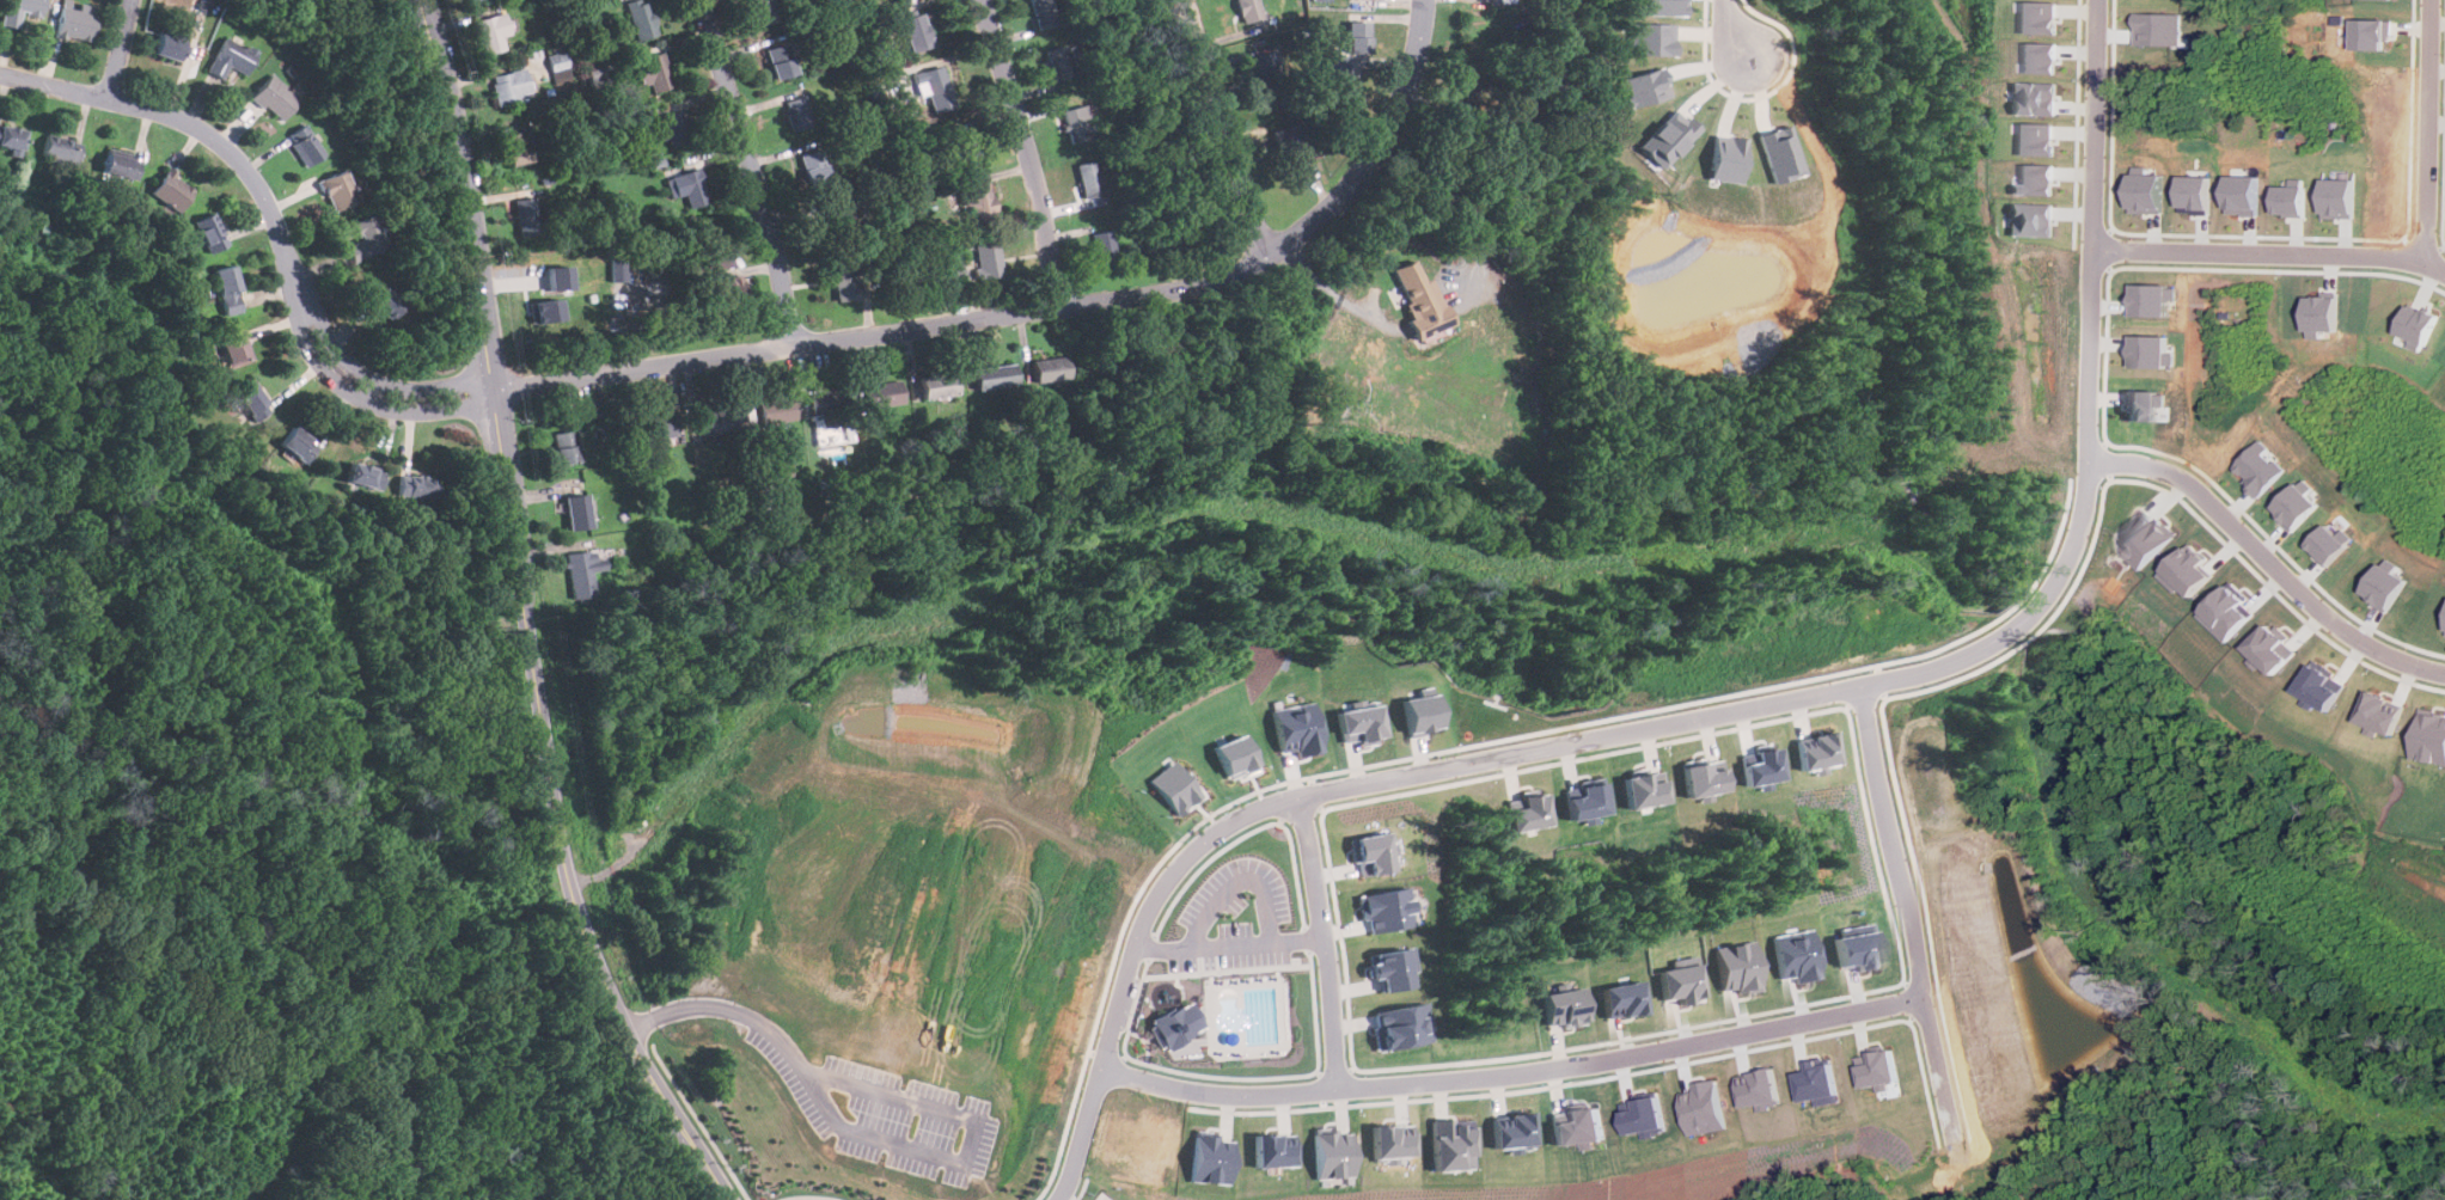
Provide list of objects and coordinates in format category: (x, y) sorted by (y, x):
building: (471, 0)
building: (1322, 0)
building: (1663, 7)
building: (19, 11)
building: (764, 11)
building: (1249, 12)
building: (1043, 13)
building: (2036, 16)
building: (640, 19)
building: (75, 20)
building: (917, 29)
building: (2157, 29)
road: (1730, 30)
building: (491, 32)
building: (2372, 33)
building: (1651, 38)
building: (1358, 39)
building: (170, 48)
road: (121, 49)
building: (2038, 56)
building: (231, 57)
building: (557, 60)
building: (781, 62)
building: (1059, 62)
building: (1338, 65)
building: (1269, 72)
building: (654, 73)
building: (597, 76)
building: (511, 86)
building: (1644, 86)
building: (934, 88)
building: (1463, 94)
building: (275, 98)
building: (2033, 98)
building: (797, 115)
building: (1077, 124)
road: (1222, 127)
building: (673, 128)
road: (2429, 129)
building: (11, 137)
building: (2034, 137)
building: (1667, 139)
building: (305, 145)
building: (1291, 145)
building: (516, 148)
building: (967, 148)
road: (1026, 148)
building: (61, 149)
building: (1779, 153)
road: (1388, 154)
building: (1725, 158)
building: (121, 166)
building: (814, 167)
road: (751, 169)
building: (1090, 179)
building: (2034, 179)
building: (687, 188)
road: (259, 189)
building: (343, 190)
building: (171, 191)
building: (2145, 192)
building: (2194, 194)
building: (2242, 195)
building: (2339, 197)
building: (2291, 201)
building: (978, 204)
building: (526, 216)
building: (2029, 219)
building: (210, 233)
building: (366, 239)
building: (1105, 246)
building: (717, 256)
road: (2272, 256)
building: (989, 261)
building: (952, 270)
road: (1306, 270)
building: (561, 275)
building: (845, 278)
building: (228, 290)
building: (726, 293)
building: (386, 298)
building: (1420, 299)
building: (2148, 299)
road: (1350, 307)
building: (550, 308)
road: (1001, 310)
building: (2322, 314)
road: (1522, 323)
building: (2418, 325)
building: (236, 350)
building: (2148, 350)
building: (1049, 369)
building: (995, 376)
building: (939, 386)
building: (885, 394)
building: (253, 402)
building: (829, 405)
building: (2146, 405)
building: (776, 410)
building: (719, 421)
building: (660, 427)
building: (299, 443)
building: (566, 448)
building: (2258, 467)
building: (365, 475)
road: (505, 483)
building: (415, 486)
building: (2296, 504)
building: (577, 510)
road: (1225, 518)
building: (2145, 540)
building: (2330, 543)
road: (2267, 561)
building: (2189, 570)
building: (579, 574)
building: (2385, 584)
building: (2230, 612)
building: (2274, 647)
building: (2322, 685)
road: (1734, 711)
building: (1414, 714)
building: (2383, 714)
building: (1356, 723)
building: (1296, 728)
building: (2432, 736)
building: (1820, 749)
building: (1237, 757)
building: (1764, 766)
building: (1703, 779)
building: (1179, 786)
building: (1644, 789)
building: (1588, 803)
building: (1528, 813)
road: (1897, 840)
building: (1369, 852)
road: (1241, 877)
park: (904, 896)
building: (1386, 908)
road: (1326, 941)
road: (1231, 943)
building: (1859, 948)
building: (1798, 955)
building: (1740, 966)
building: (1393, 967)
building: (1683, 982)
building: (1624, 998)
building: (1565, 1006)
building: (1179, 1024)
building: (1404, 1025)
road: (1939, 1063)
building: (1878, 1070)
road: (1518, 1071)
building: (1814, 1082)
road: (652, 1085)
building: (1754, 1088)
building: (1697, 1107)
building: (1638, 1115)
building: (1579, 1128)
building: (1517, 1131)
road: (872, 1139)
building: (1396, 1140)
building: (1455, 1144)
building: (1277, 1150)
building: (1337, 1151)
building: (1214, 1157)

